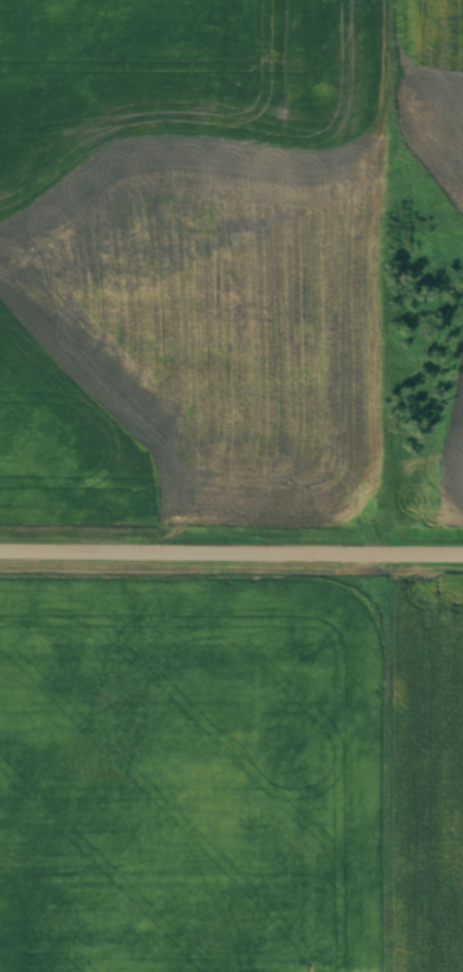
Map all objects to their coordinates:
road: (231, 553)

